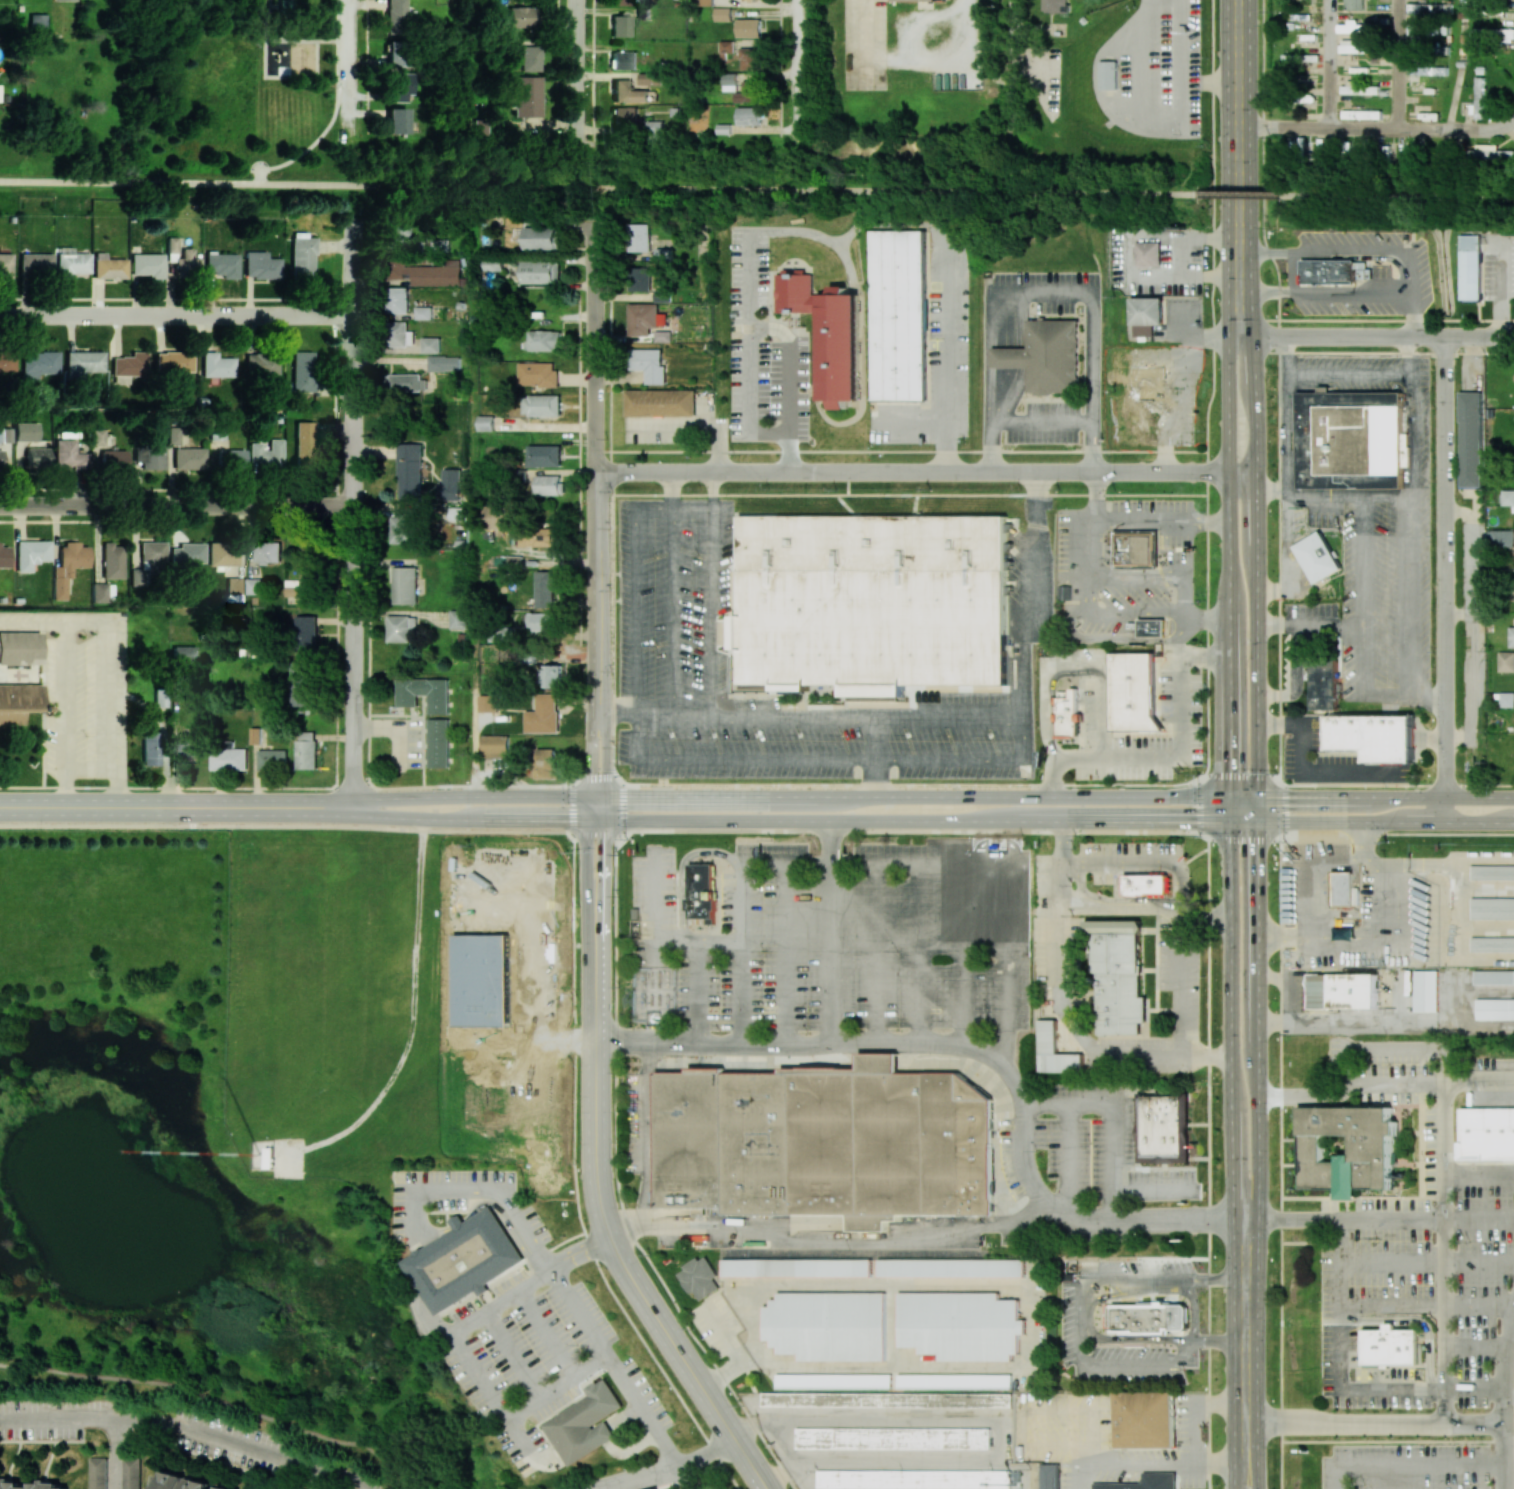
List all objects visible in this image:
building: (910, 0)
building: (618, 2)
building: (705, 2)
building: (284, 4)
building: (1353, 4)
building: (1055, 5)
building: (1428, 8)
building: (722, 14)
building: (519, 16)
building: (396, 17)
road: (264, 19)
building: (37, 20)
road: (285, 23)
building: (620, 25)
building: (748, 28)
building: (1355, 28)
building: (1414, 29)
road: (326, 39)
building: (1355, 47)
building: (726, 48)
building: (396, 53)
building: (525, 53)
building: (749, 59)
building: (623, 60)
road: (1327, 64)
road: (1398, 64)
road: (914, 65)
road: (574, 67)
road: (348, 69)
building: (1367, 69)
building: (1427, 69)
road: (797, 70)
road: (1015, 70)
road: (1180, 72)
building: (1108, 74)
road: (316, 75)
building: (650, 78)
building: (400, 87)
building: (1360, 88)
park: (233, 89)
building: (743, 89)
building: (627, 92)
building: (525, 96)
road: (1136, 96)
building: (1478, 99)
road: (333, 113)
building: (1361, 114)
building: (749, 115)
building: (624, 118)
building: (396, 120)
building: (480, 127)
road: (1318, 128)
road: (1457, 129)
building: (656, 131)
road: (1240, 147)
building: (1492, 154)
road: (1014, 166)
road: (129, 183)
road: (727, 191)
road: (1240, 194)
road: (1399, 196)
building: (396, 234)
building: (641, 237)
building: (541, 238)
building: (436, 244)
building: (1147, 253)
building: (301, 256)
road: (1125, 256)
road: (1173, 256)
building: (182, 259)
building: (71, 263)
building: (5, 264)
building: (35, 264)
building: (147, 264)
building: (222, 264)
building: (261, 265)
building: (493, 266)
building: (1471, 267)
building: (109, 268)
building: (424, 271)
building: (1327, 271)
building: (541, 272)
road: (1414, 274)
building: (640, 279)
road: (1041, 290)
building: (795, 291)
road: (749, 297)
building: (397, 300)
building: (423, 312)
road: (176, 314)
building: (901, 314)
building: (1146, 315)
road: (1246, 315)
road: (1409, 316)
building: (644, 318)
building: (400, 334)
building: (662, 336)
road: (1370, 336)
building: (544, 340)
building: (430, 345)
building: (839, 347)
building: (1046, 356)
road: (1412, 356)
road: (1291, 357)
building: (7, 360)
building: (173, 361)
building: (84, 362)
building: (261, 363)
building: (444, 363)
building: (39, 364)
building: (129, 364)
building: (649, 364)
building: (216, 365)
road: (952, 365)
building: (303, 371)
building: (537, 374)
road: (1353, 377)
building: (406, 382)
road: (1413, 386)
building: (1149, 393)
building: (660, 402)
building: (542, 405)
building: (485, 423)
road: (1040, 423)
building: (26, 431)
road: (690, 431)
building: (5, 434)
building: (1471, 439)
building: (1349, 440)
building: (304, 443)
road: (1412, 447)
road: (1287, 452)
building: (266, 453)
building: (70, 454)
building: (544, 455)
building: (36, 456)
building: (150, 456)
building: (230, 457)
building: (189, 458)
building: (0, 459)
building: (113, 459)
road: (594, 468)
building: (409, 471)
road: (926, 473)
building: (449, 485)
building: (548, 485)
road: (671, 490)
road: (711, 490)
road: (1325, 497)
road: (1387, 497)
building: (1508, 497)
road: (1097, 504)
road: (176, 505)
parking lot: (736, 505)
road: (691, 508)
road: (352, 516)
building: (499, 517)
road: (1175, 521)
building: (402, 526)
building: (536, 535)
building: (1503, 538)
road: (1229, 544)
building: (1136, 549)
building: (268, 552)
building: (31, 553)
building: (188, 553)
building: (222, 553)
building: (4, 556)
road: (1289, 557)
building: (1318, 557)
building: (112, 560)
building: (148, 561)
building: (68, 566)
road: (1257, 566)
road: (1146, 577)
road: (1445, 578)
building: (304, 579)
building: (254, 585)
building: (404, 585)
building: (545, 587)
building: (235, 589)
road: (1090, 591)
building: (99, 592)
road: (637, 592)
road: (1362, 597)
road: (472, 598)
road: (1413, 598)
parking lot: (676, 604)
building: (876, 606)
road: (672, 612)
road: (710, 612)
road: (1140, 616)
road: (1458, 616)
building: (458, 619)
building: (541, 620)
road: (1279, 626)
road: (1331, 627)
building: (400, 628)
building: (1153, 628)
road: (1472, 628)
building: (306, 633)
building: (502, 633)
building: (1511, 636)
road: (1121, 641)
building: (20, 648)
road: (1182, 650)
road: (117, 655)
building: (184, 655)
road: (1299, 659)
building: (1506, 661)
road: (1070, 672)
building: (552, 675)
building: (1325, 678)
building: (302, 684)
building: (424, 693)
building: (1134, 694)
road: (1278, 695)
road: (1403, 698)
building: (1507, 699)
building: (18, 702)
building: (488, 703)
road: (64, 714)
building: (1067, 714)
building: (543, 715)
road: (936, 716)
building: (256, 735)
building: (1376, 736)
building: (438, 743)
building: (190, 746)
building: (495, 746)
building: (151, 748)
building: (306, 750)
road: (591, 754)
road: (606, 754)
road: (875, 756)
building: (229, 757)
road: (1174, 757)
building: (273, 759)
road: (830, 762)
building: (545, 763)
traffic signals: (1230, 765)
road: (1303, 775)
traffic signals: (592, 795)
traffic signals: (607, 795)
road: (762, 795)
road: (1243, 797)
traffic signals: (1293, 797)
road: (1385, 797)
road: (147, 807)
road: (1230, 809)
traffic signals: (585, 821)
traffic signals: (606, 821)
road: (762, 821)
traffic signals: (1190, 822)
road: (1372, 822)
road: (303, 824)
road: (1360, 835)
road: (829, 843)
traffic signals: (1257, 850)
road: (585, 854)
road: (605, 855)
road: (1145, 861)
road: (808, 866)
road: (683, 871)
building: (1493, 872)
road: (1006, 879)
road: (742, 881)
building: (1146, 885)
building: (1343, 887)
building: (702, 892)
road: (655, 895)
road: (418, 899)
building: (1492, 907)
road: (1106, 910)
road: (1285, 938)
road: (698, 941)
building: (1492, 943)
road: (1350, 946)
road: (787, 955)
road: (829, 955)
road: (878, 955)
road: (922, 955)
road: (966, 955)
road: (1180, 960)
building: (1118, 977)
building: (1494, 977)
building: (397, 984)
building: (1426, 990)
building: (1342, 991)
road: (694, 992)
road: (742, 992)
road: (1257, 1007)
building: (1495, 1008)
road: (1067, 1010)
road: (1231, 1020)
road: (978, 1049)
building: (1054, 1051)
road: (1381, 1081)
building: (1163, 1127)
building: (1487, 1133)
road: (646, 1134)
road: (1112, 1135)
building: (826, 1142)
building: (1345, 1149)
road: (595, 1152)
road: (1069, 1160)
road: (1281, 1163)
road: (1444, 1164)
road: (499, 1198)
road: (1443, 1198)
road: (1112, 1203)
road: (1379, 1218)
building: (455, 1220)
road: (828, 1243)
building: (462, 1260)
road: (1478, 1262)
road: (1392, 1264)
building: (798, 1267)
building: (952, 1267)
building: (700, 1277)
road: (1215, 1279)
road: (1167, 1280)
road: (1478, 1307)
road: (1393, 1308)
building: (1148, 1318)
road: (1443, 1320)
building: (827, 1325)
building: (960, 1325)
road: (1246, 1339)
road: (598, 1340)
road: (1219, 1343)
road: (1476, 1346)
road: (460, 1349)
building: (1395, 1349)
road: (1344, 1355)
road: (1104, 1364)
building: (833, 1380)
building: (954, 1381)
road: (557, 1385)
road: (1475, 1389)
road: (1507, 1399)
building: (887, 1400)
road: (1193, 1406)
building: (1145, 1419)
building: (584, 1423)
road: (1376, 1423)
road: (728, 1427)
road: (190, 1430)
building: (894, 1438)
road: (1055, 1445)
road: (115, 1454)
road: (1411, 1464)
road: (666, 1468)
building: (98, 1473)
building: (132, 1473)
road: (1238, 1475)
road: (1251, 1475)
road: (687, 1476)
building: (1050, 1476)
building: (911, 1479)
building: (1144, 1482)
building: (185, 1483)
building: (46, 1484)
building: (290, 1488)
building: (659, 1488)

